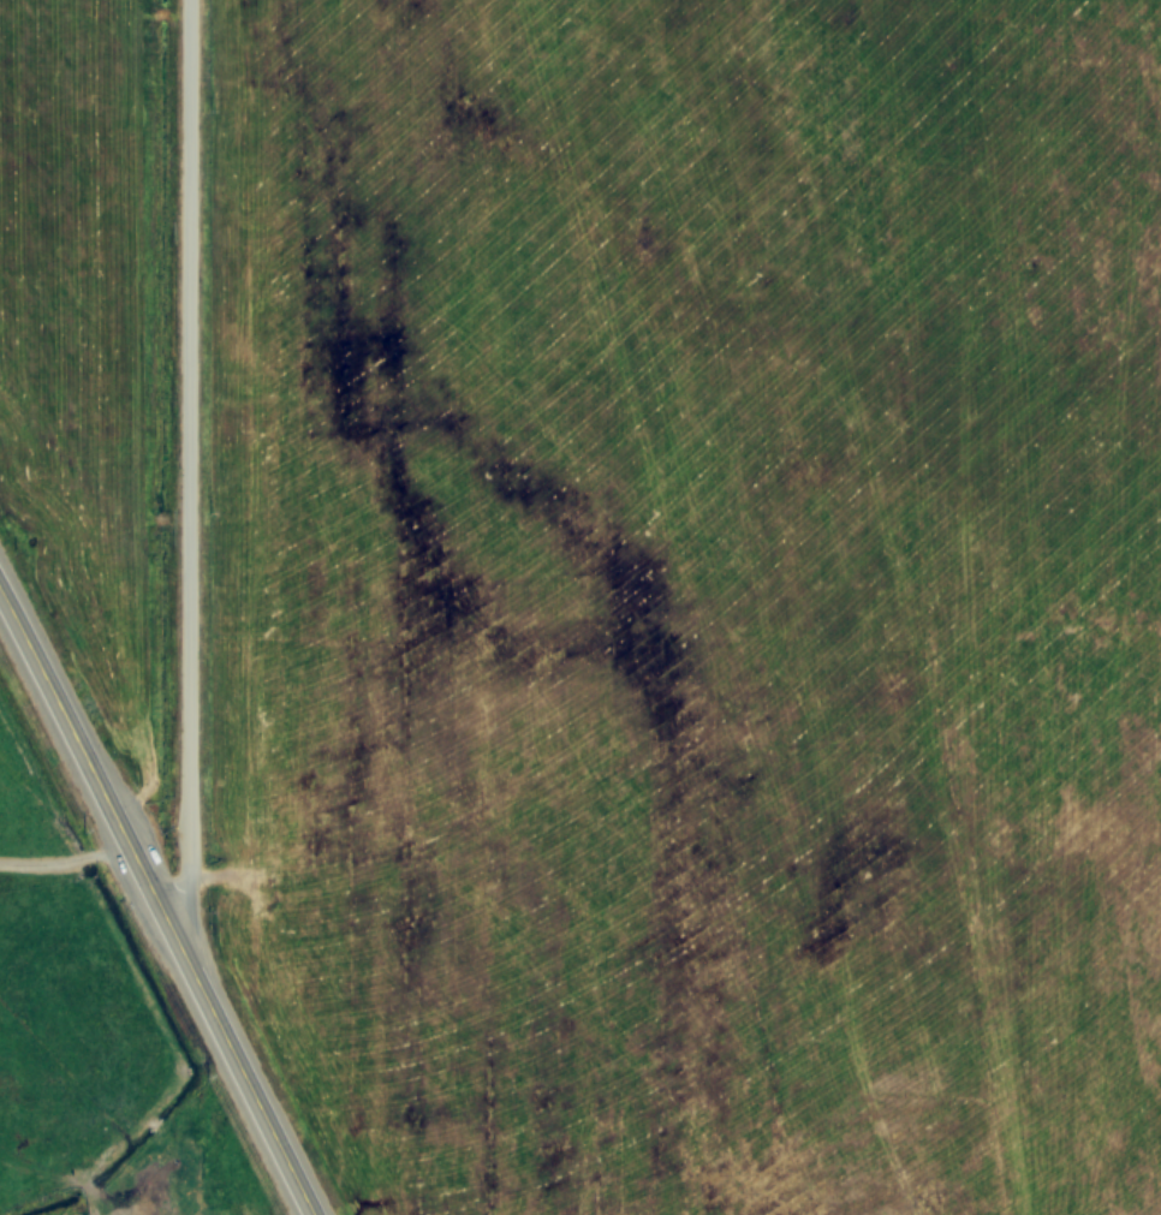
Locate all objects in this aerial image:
road: (190, 464)
road: (65, 864)
road: (156, 904)

